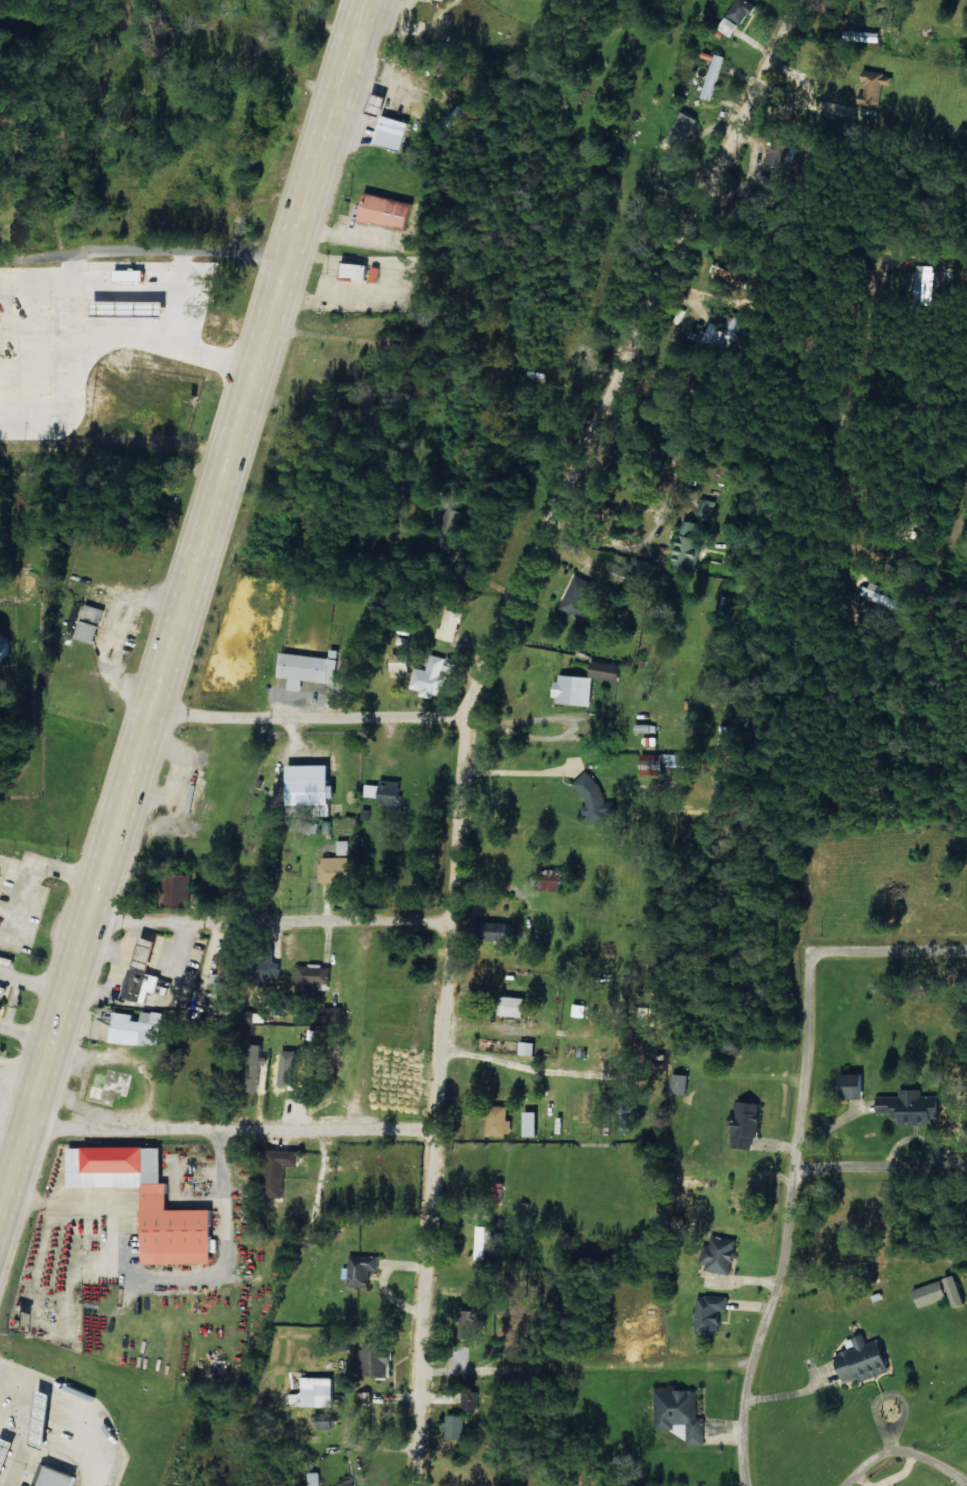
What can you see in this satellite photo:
building: (737, 16)
building: (714, 75)
building: (877, 80)
gas station: (382, 127)
building: (394, 131)
building: (680, 131)
building: (783, 154)
building: (670, 177)
building: (388, 211)
road: (299, 218)
road: (143, 260)
building: (362, 271)
building: (733, 274)
building: (924, 281)
building: (718, 334)
road: (6, 427)
building: (706, 507)
building: (451, 528)
building: (688, 544)
road: (10, 574)
building: (579, 597)
building: (877, 598)
building: (92, 623)
building: (451, 624)
building: (8, 645)
building: (309, 669)
building: (607, 670)
building: (433, 677)
building: (575, 689)
road: (470, 706)
road: (307, 716)
building: (663, 762)
building: (312, 786)
building: (388, 793)
building: (595, 799)
road: (117, 826)
building: (343, 847)
building: (335, 869)
building: (0, 875)
building: (554, 880)
building: (182, 890)
road: (269, 922)
building: (500, 931)
building: (270, 968)
building: (146, 973)
building: (313, 977)
building: (4, 990)
building: (515, 1006)
building: (226, 1008)
building: (1, 1009)
building: (578, 1010)
building: (334, 1015)
building: (140, 1028)
building: (529, 1048)
building: (257, 1066)
building: (293, 1075)
building: (681, 1083)
building: (856, 1086)
road: (546, 1103)
building: (904, 1106)
building: (500, 1121)
building: (533, 1124)
building: (748, 1124)
road: (230, 1130)
building: (281, 1169)
building: (699, 1182)
building: (150, 1201)
building: (720, 1254)
building: (363, 1269)
road: (875, 1277)
building: (957, 1290)
building: (931, 1293)
building: (712, 1312)
building: (378, 1357)
building: (865, 1358)
road: (587, 1368)
road: (750, 1378)
building: (319, 1391)
building: (470, 1399)
building: (681, 1413)
building: (46, 1417)
building: (325, 1420)
building: (455, 1427)
building: (6, 1455)
building: (55, 1476)
building: (313, 1478)
building: (348, 1483)

